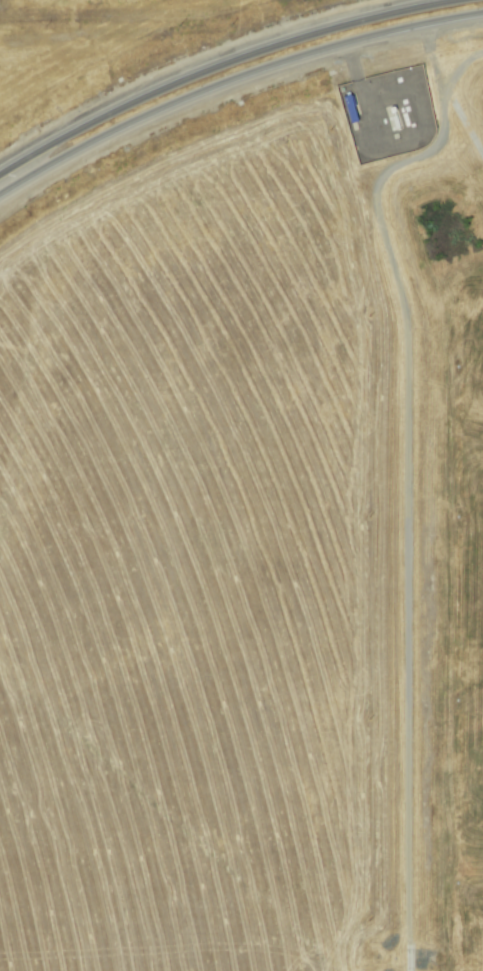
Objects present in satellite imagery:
road: (187, 64)
road: (231, 73)
road: (384, 168)
road: (406, 567)

